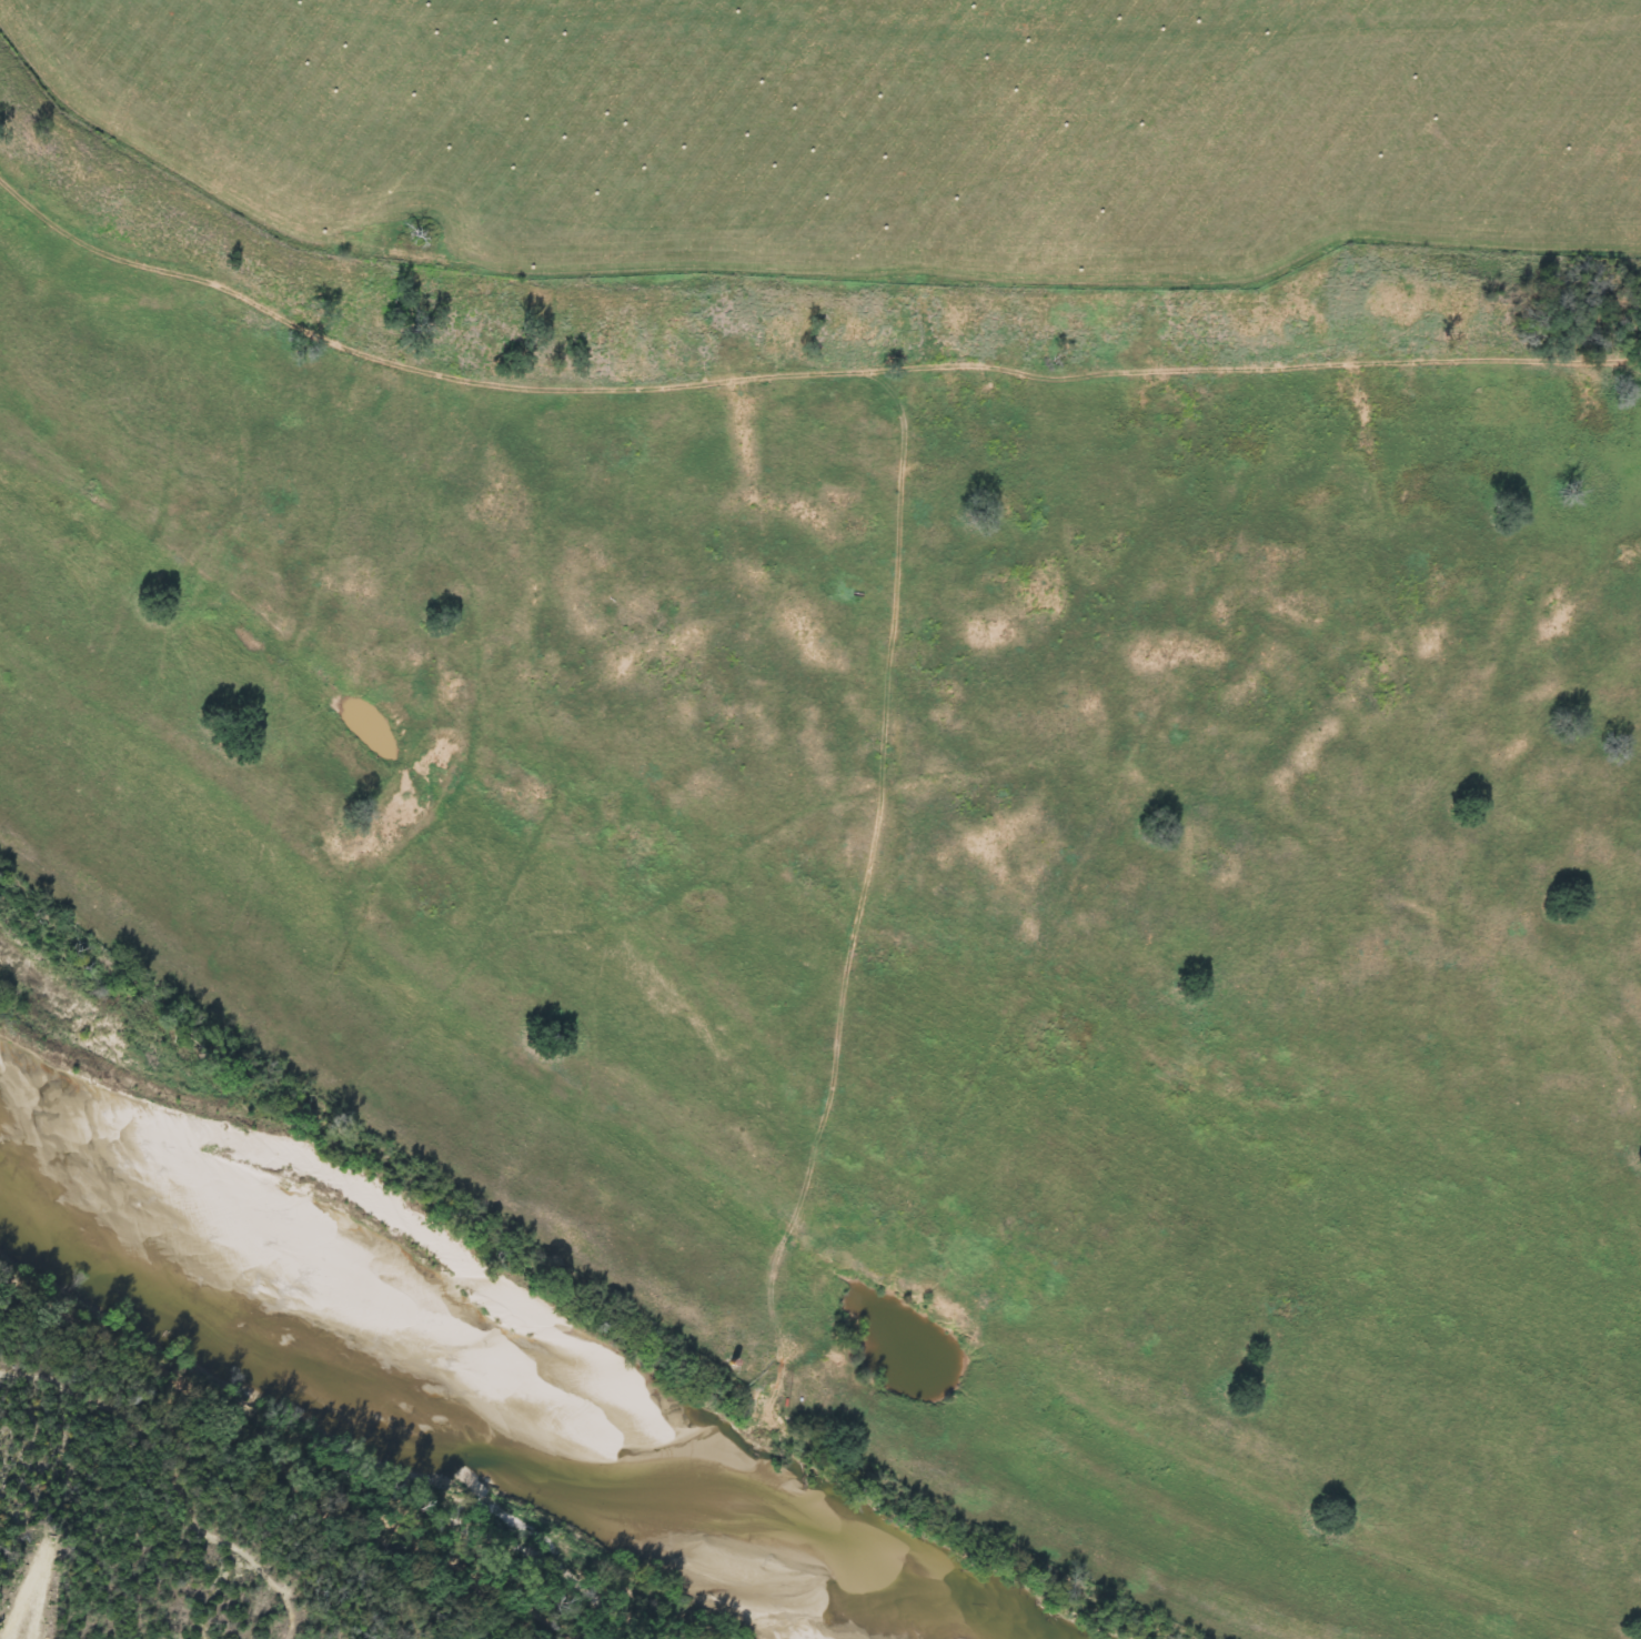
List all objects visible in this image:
river: (538, 1401)

